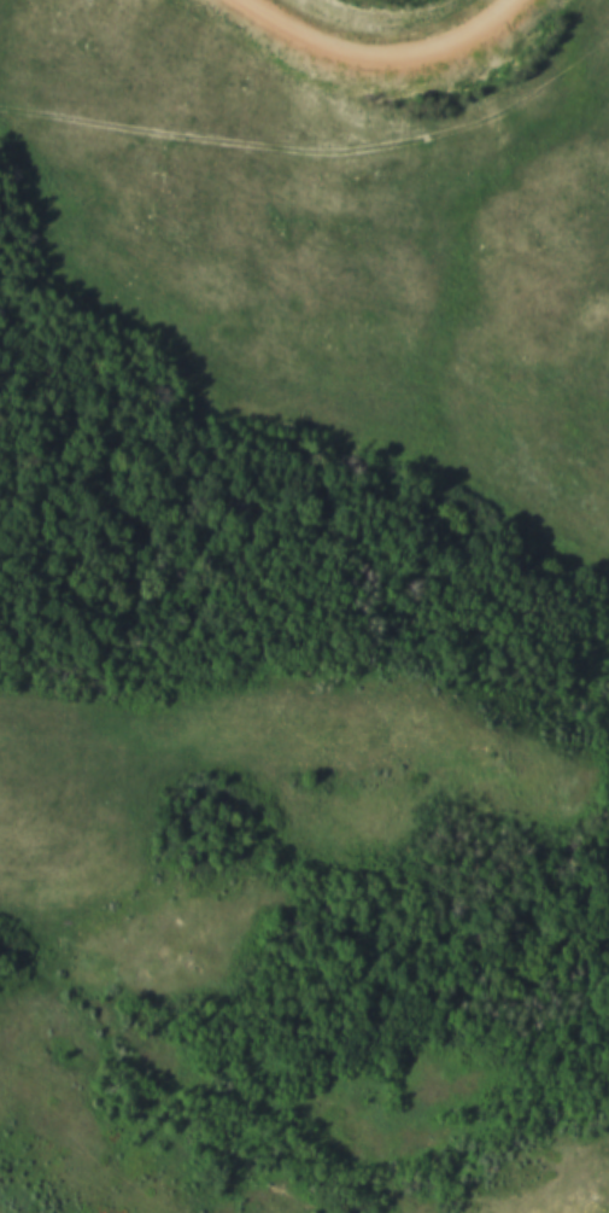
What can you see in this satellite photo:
road: (318, 158)

